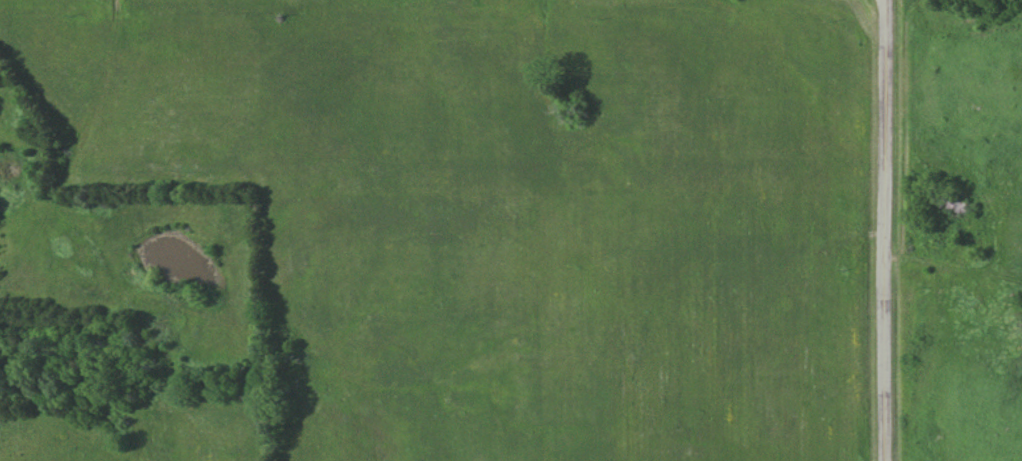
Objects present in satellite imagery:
road: (884, 230)

